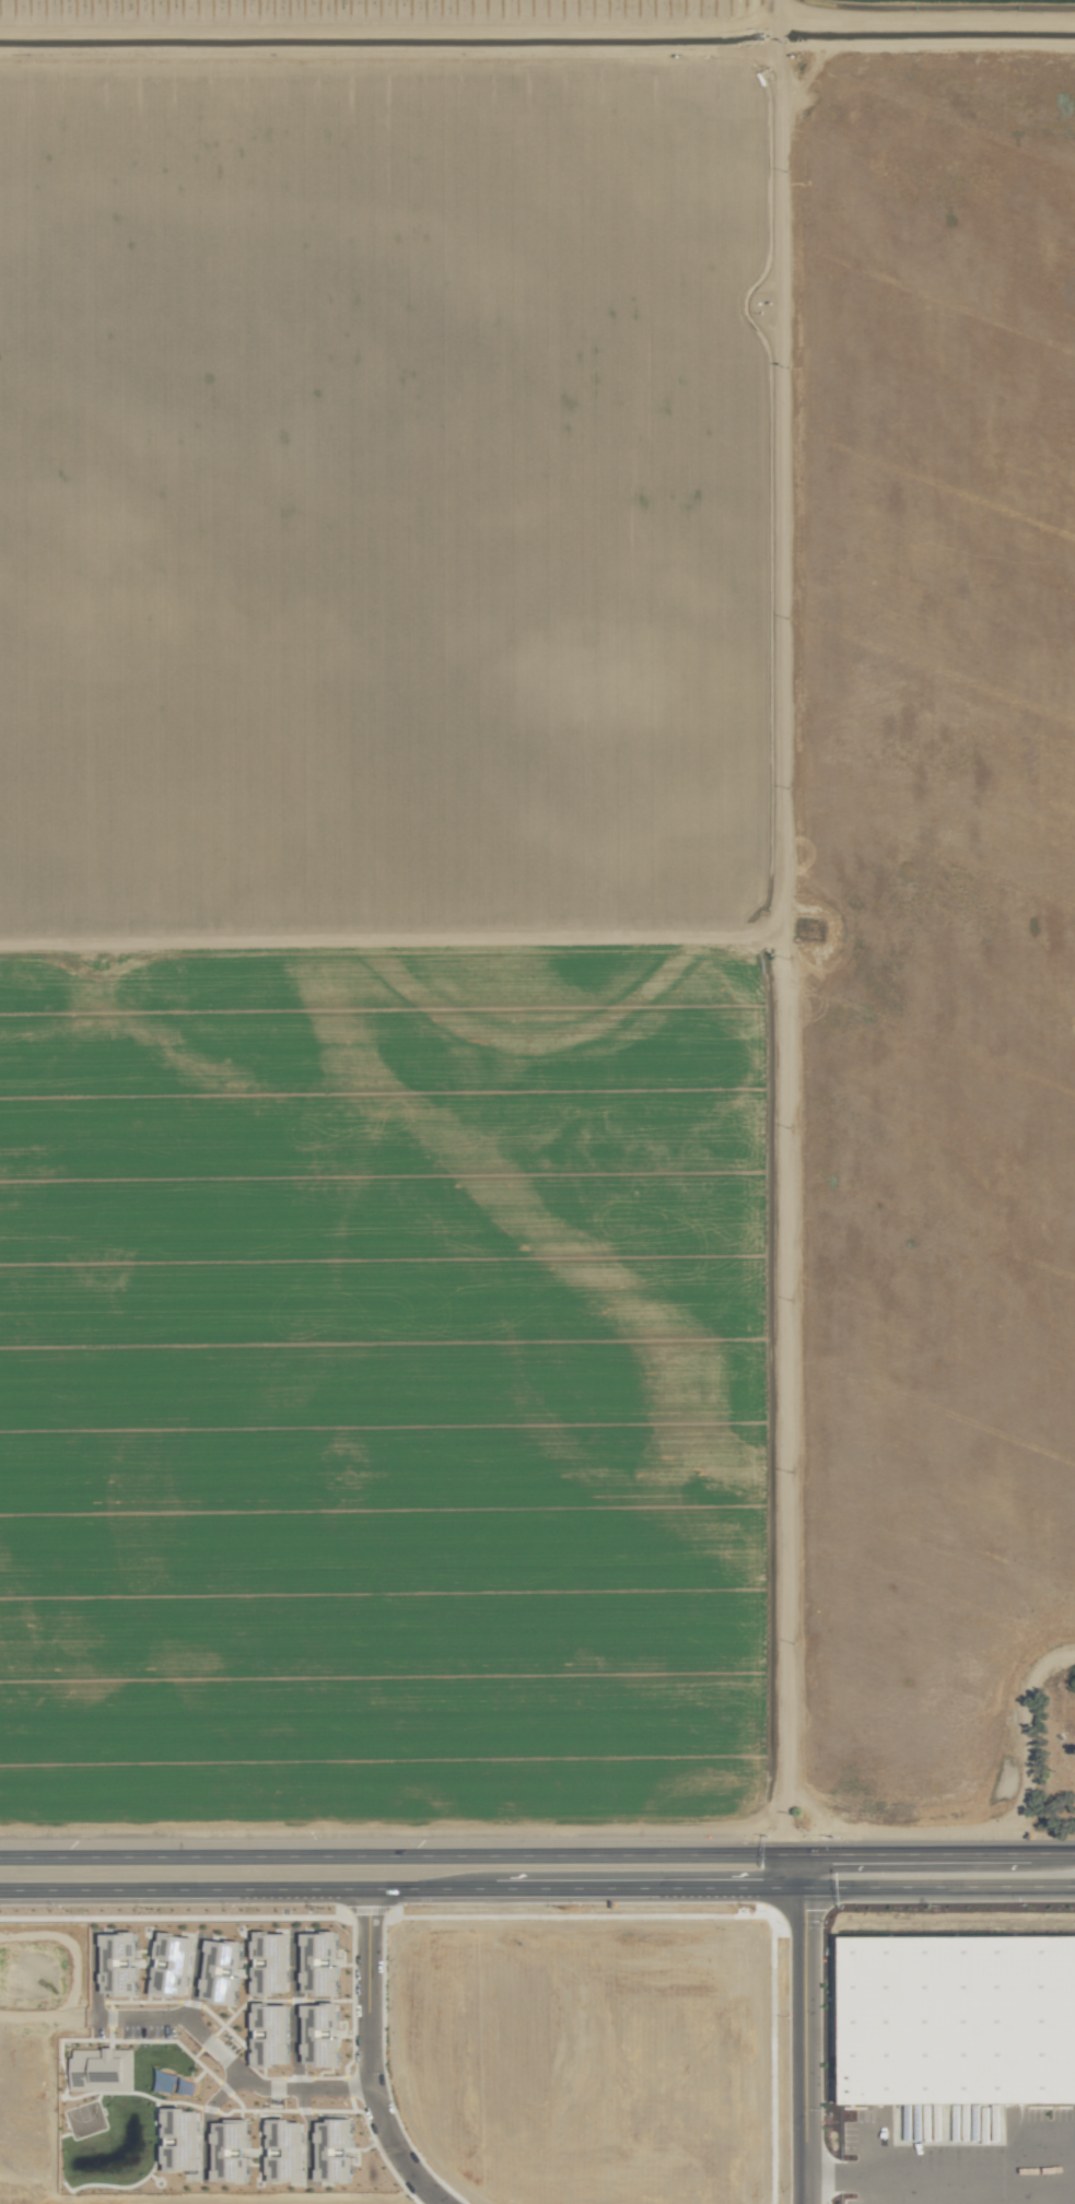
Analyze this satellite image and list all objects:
road: (933, 1853)
road: (395, 1855)
road: (935, 1885)
road: (397, 1887)
building: (959, 2017)
road: (793, 2028)
road: (349, 2059)
road: (210, 2062)
road: (934, 2173)
road: (858, 2189)

